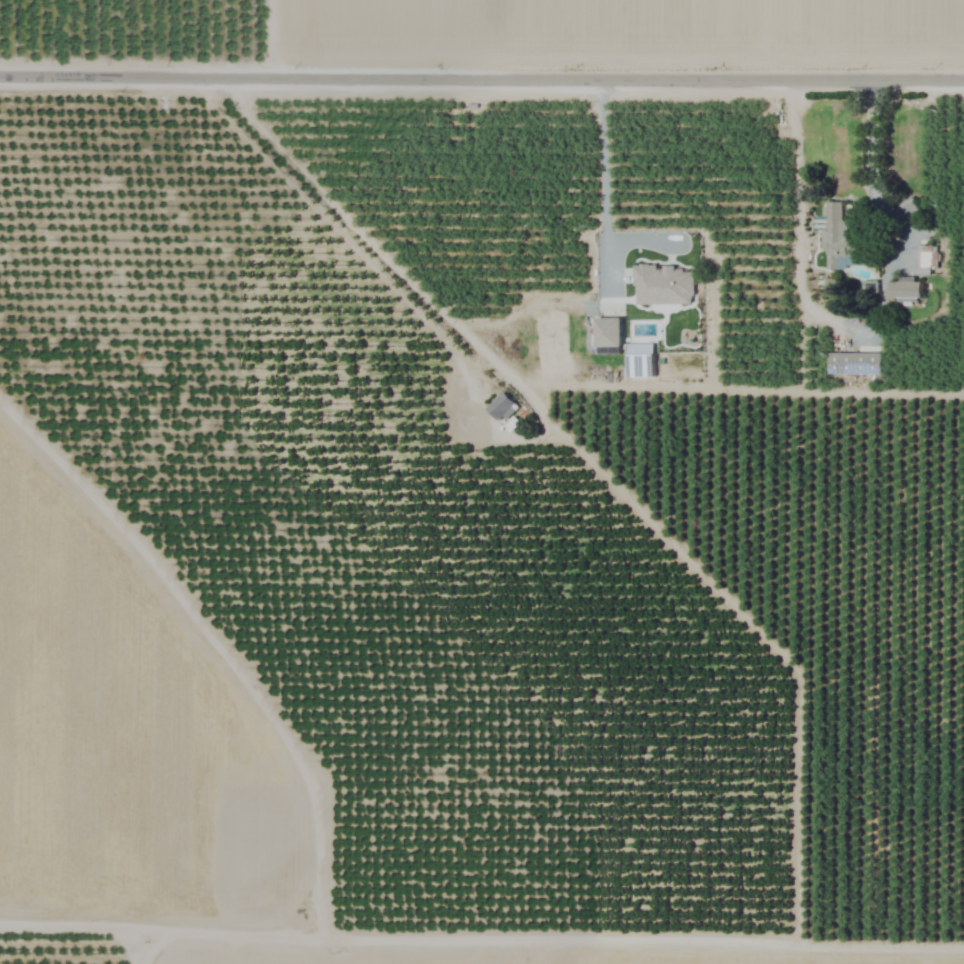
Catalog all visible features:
road: (481, 76)
road: (602, 169)
road: (870, 173)
road: (797, 198)
building: (907, 209)
building: (922, 260)
building: (662, 286)
building: (903, 290)
building: (607, 336)
building: (640, 360)
building: (854, 364)
building: (500, 407)
road: (518, 439)
crop: (482, 482)

